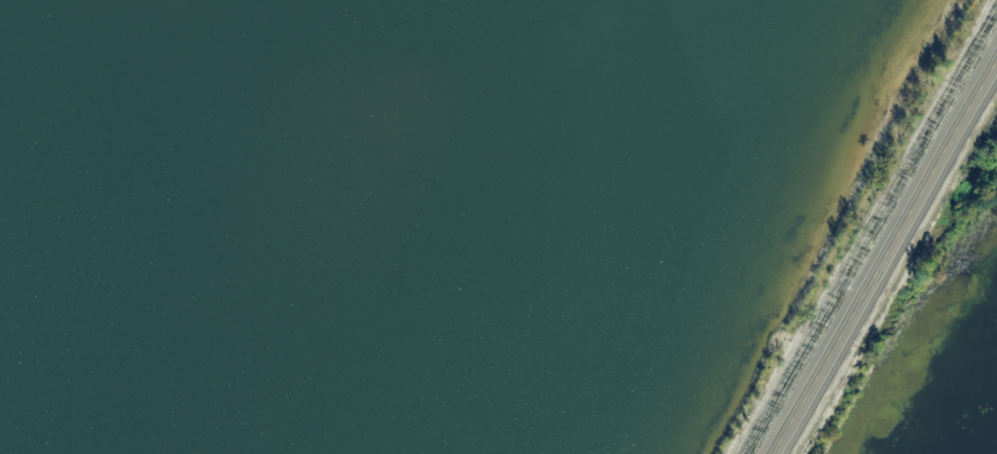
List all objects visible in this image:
road: (883, 254)

